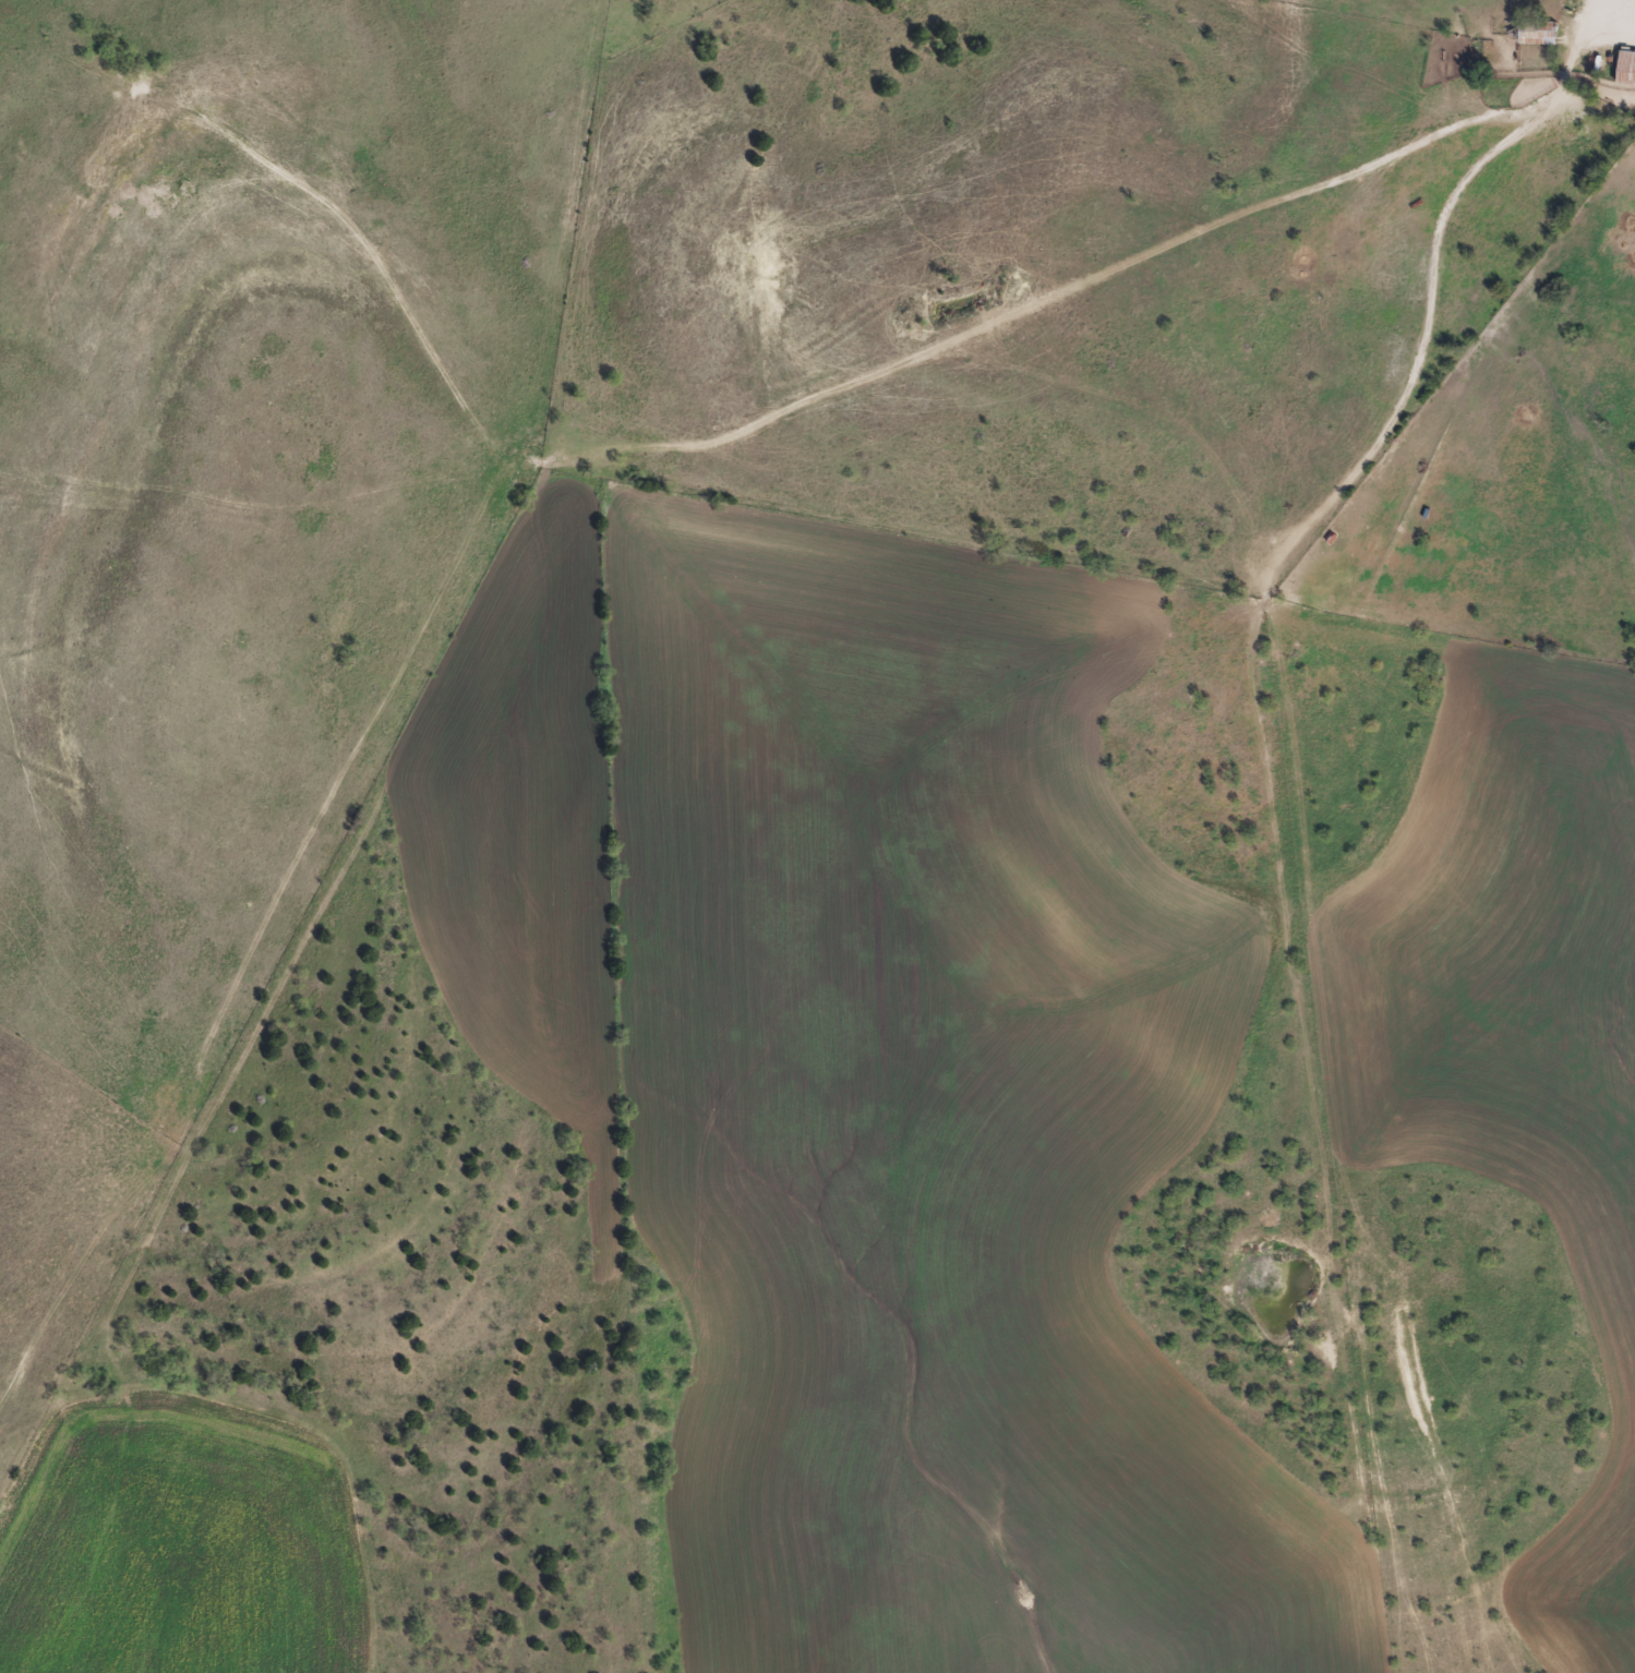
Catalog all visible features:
building: (1532, 31)
building: (1627, 67)

